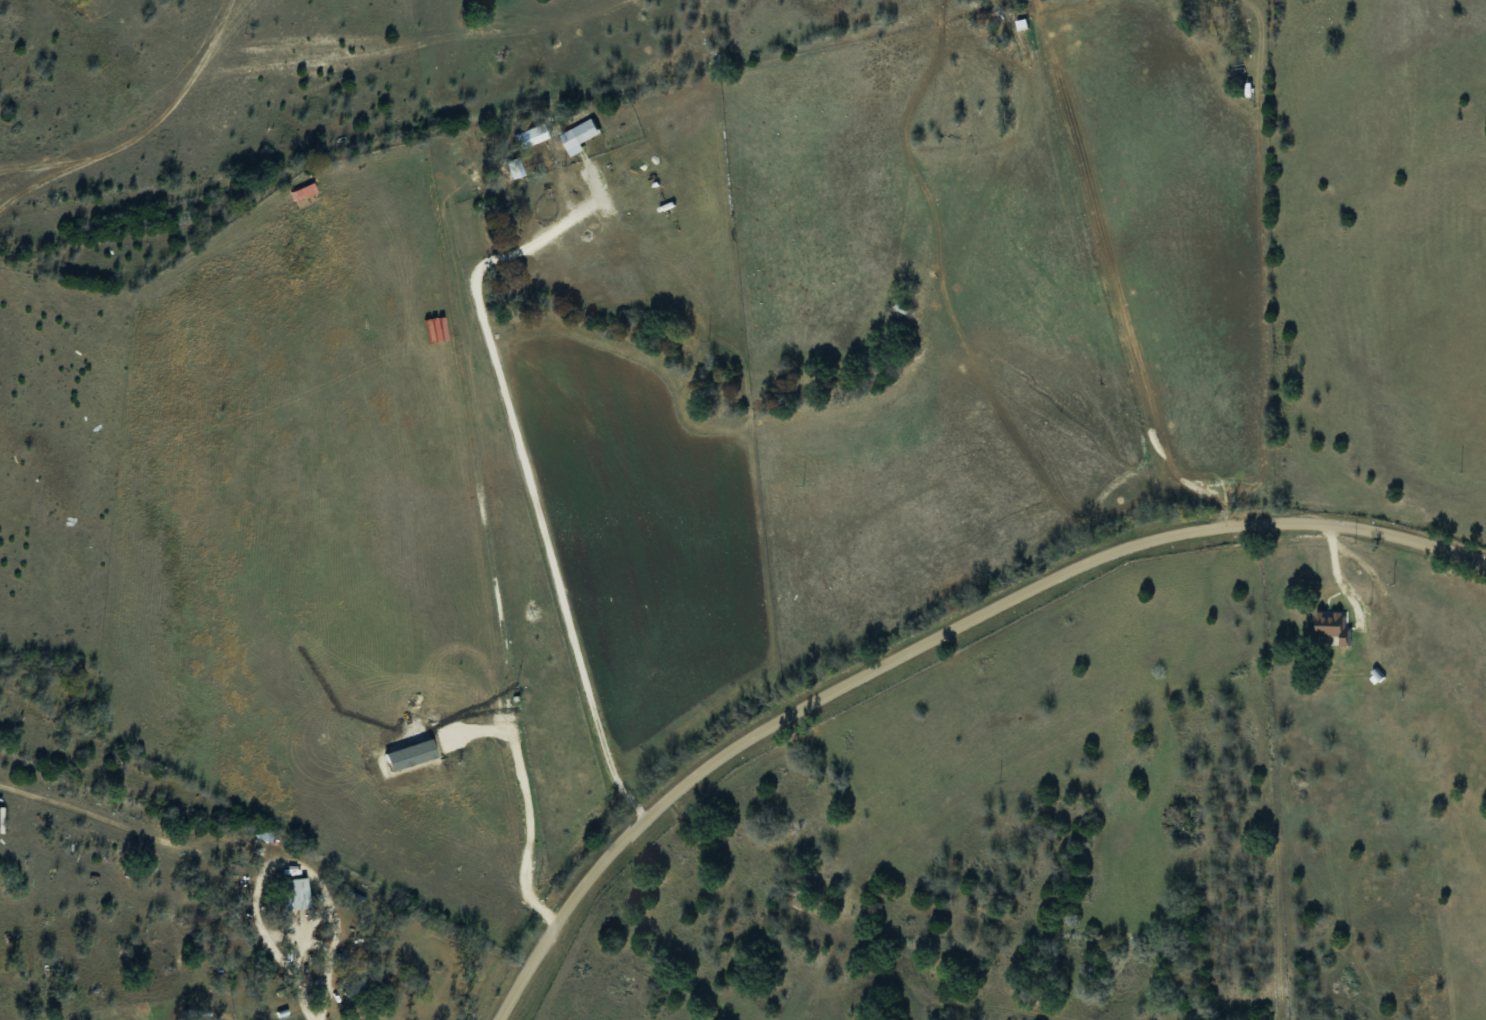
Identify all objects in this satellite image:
building: (584, 127)
building: (1330, 623)
road: (927, 640)
building: (264, 833)
building: (295, 893)
road: (314, 1009)

